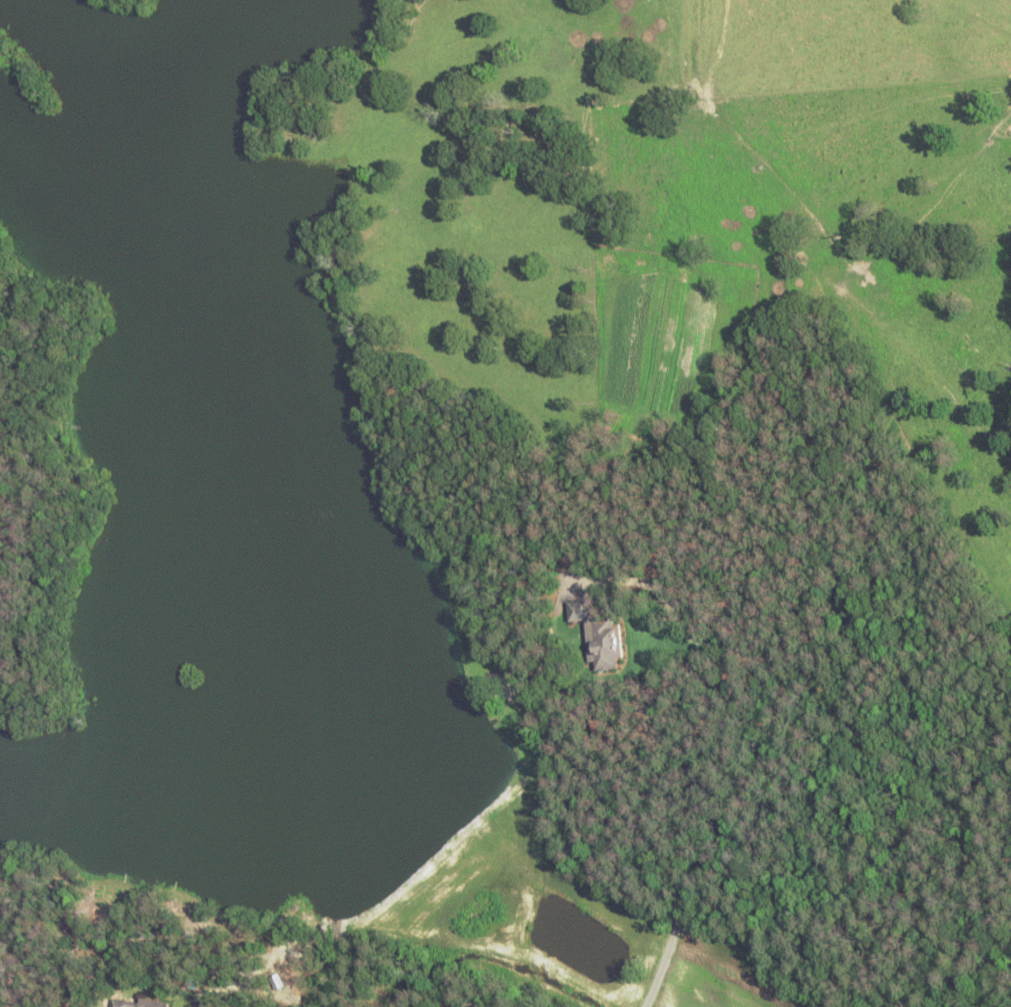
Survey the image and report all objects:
building: (151, 1004)

